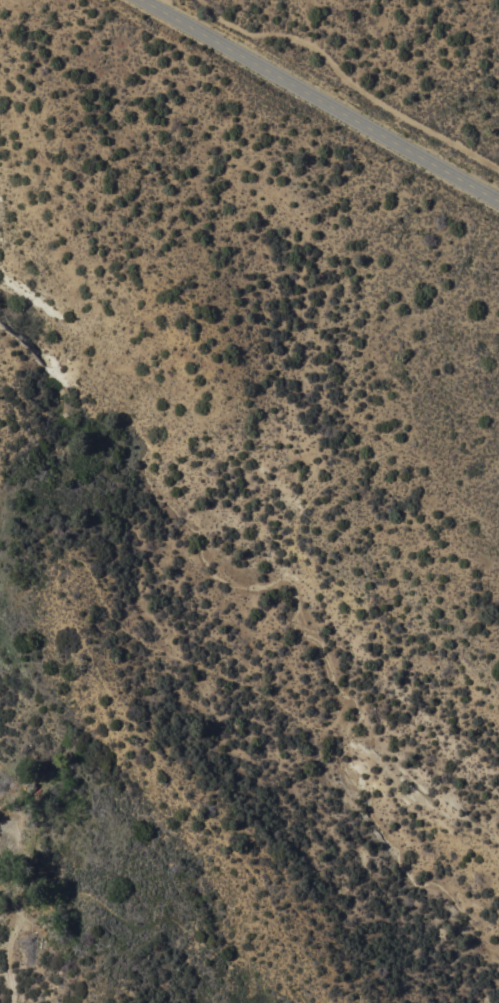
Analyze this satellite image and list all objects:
road: (156, 2)
road: (323, 99)
road: (11, 942)

